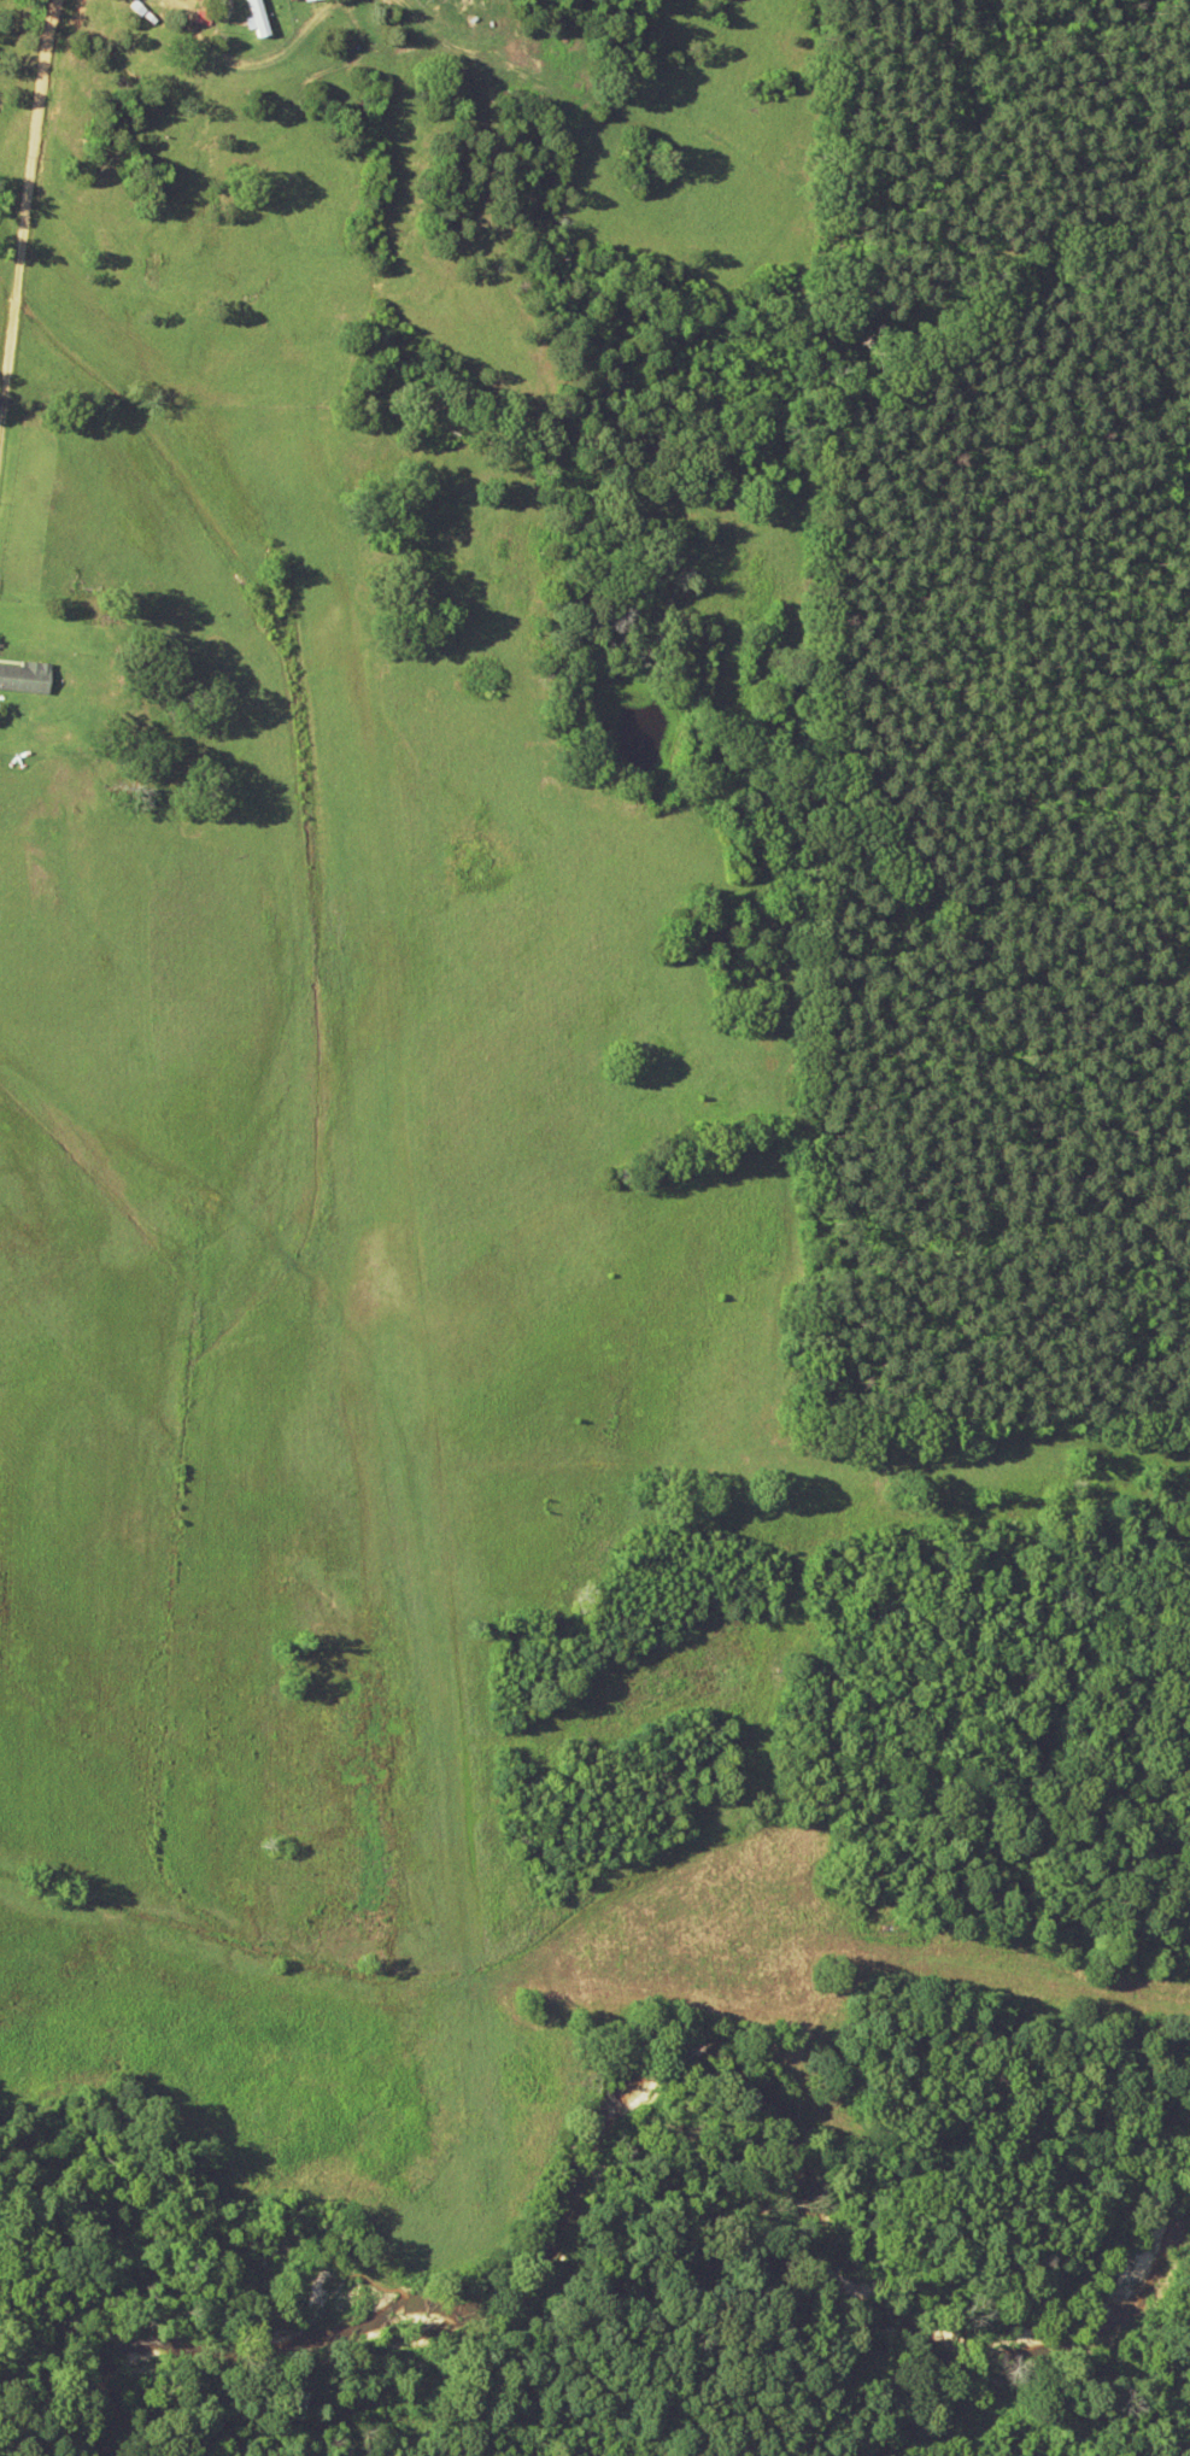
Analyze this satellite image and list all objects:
building: (257, 11)
road: (43, 259)
building: (25, 675)
airport runway: (414, 1346)

